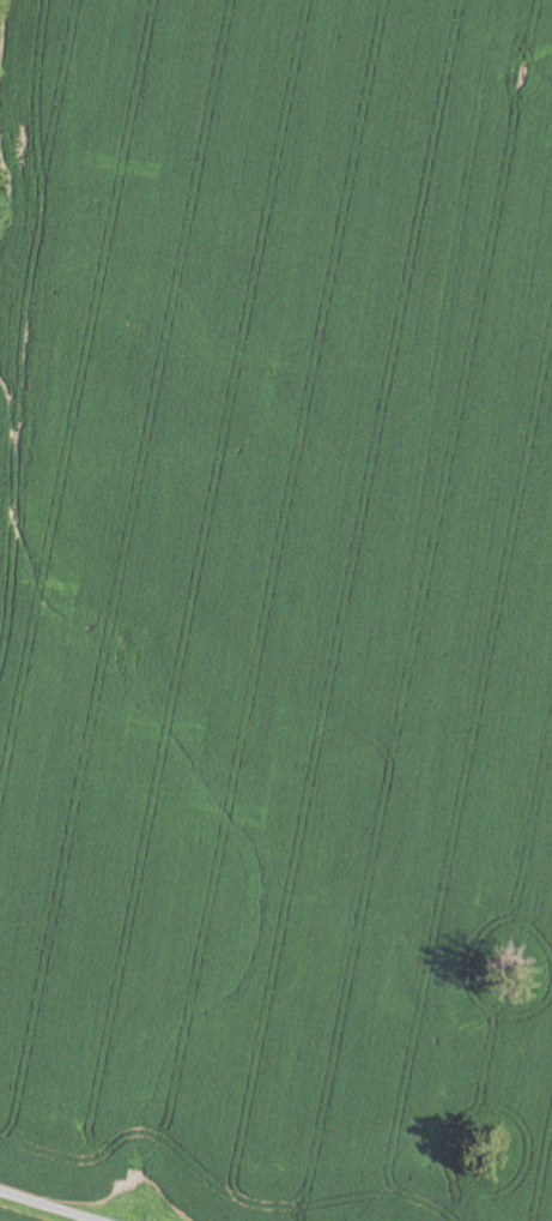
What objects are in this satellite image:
road: (50, 1205)

